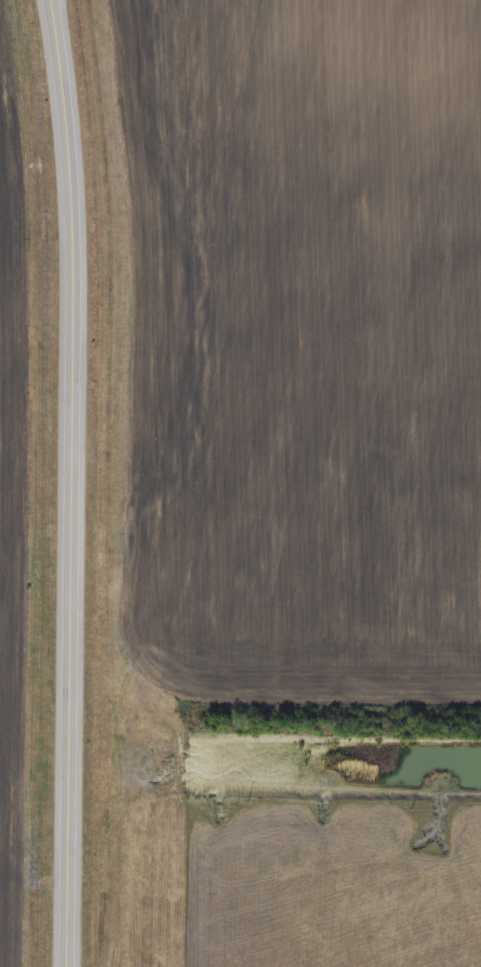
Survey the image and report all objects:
road: (74, 483)
building: (79, 779)

